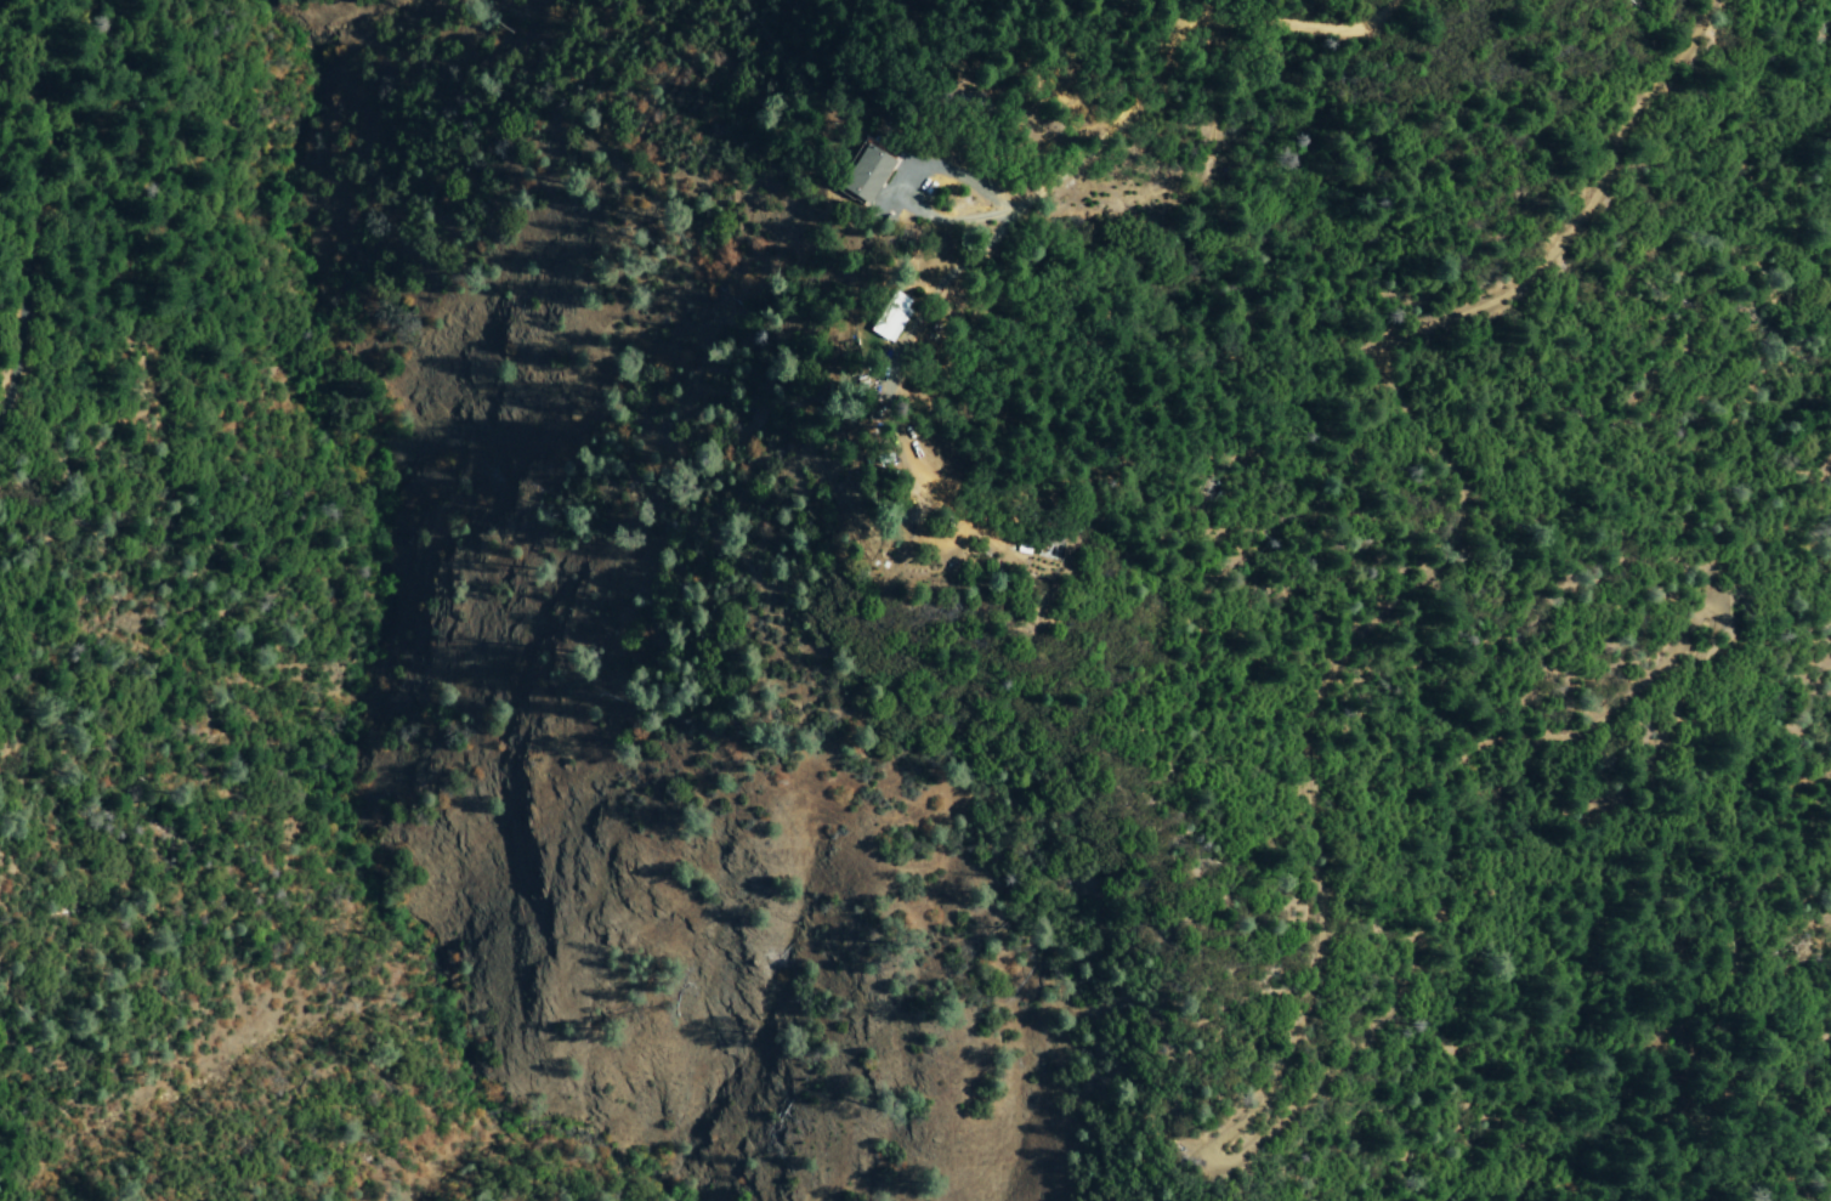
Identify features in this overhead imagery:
road: (1266, 23)
building: (858, 177)
building: (885, 319)
road: (1705, 1020)
road: (1818, 1103)
road: (1202, 1156)

